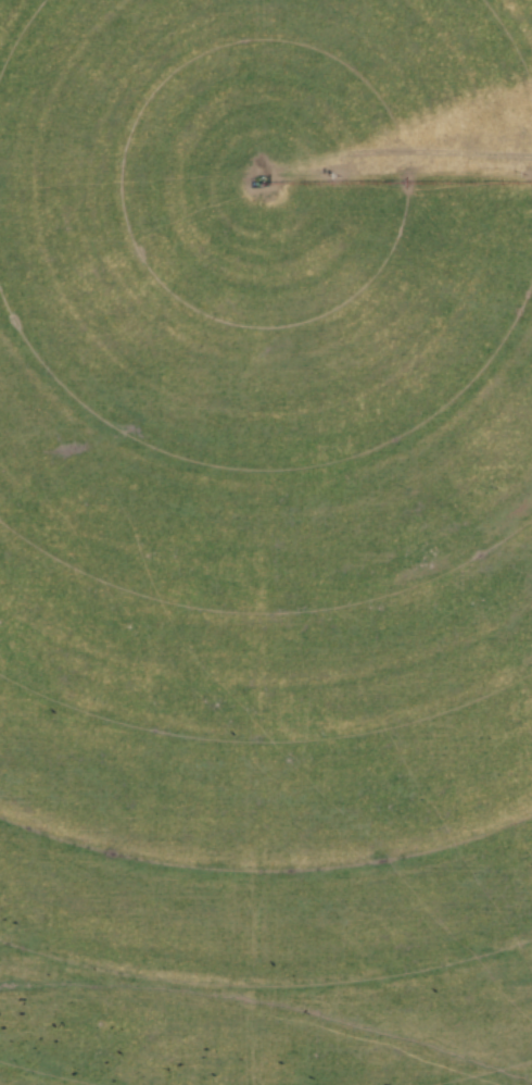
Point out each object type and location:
road: (400, 172)
crop: (266, 542)

